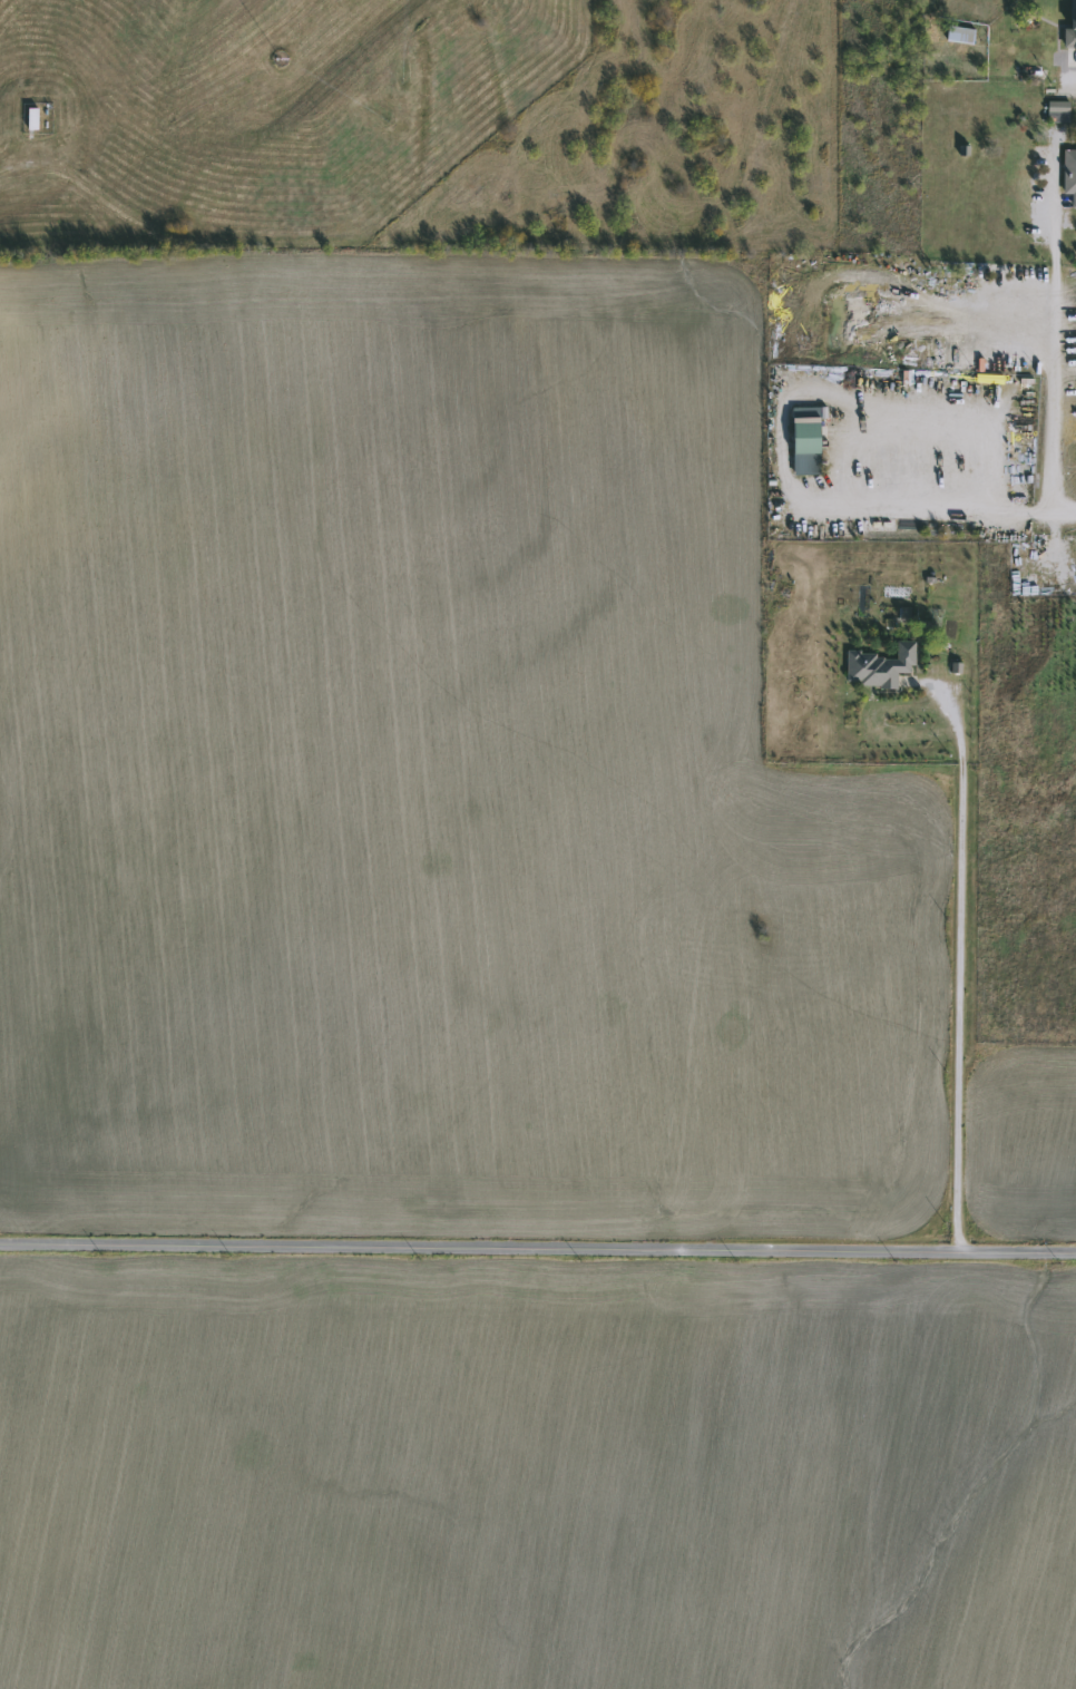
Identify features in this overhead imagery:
building: (1072, 33)
building: (961, 35)
road: (1073, 86)
building: (1060, 111)
building: (36, 119)
building: (1070, 172)
road: (1049, 362)
road: (782, 437)
building: (809, 446)
road: (1064, 508)
building: (883, 666)
road: (26, 919)
road: (955, 963)
road: (18, 1192)
road: (538, 1243)
crop: (537, 1478)

